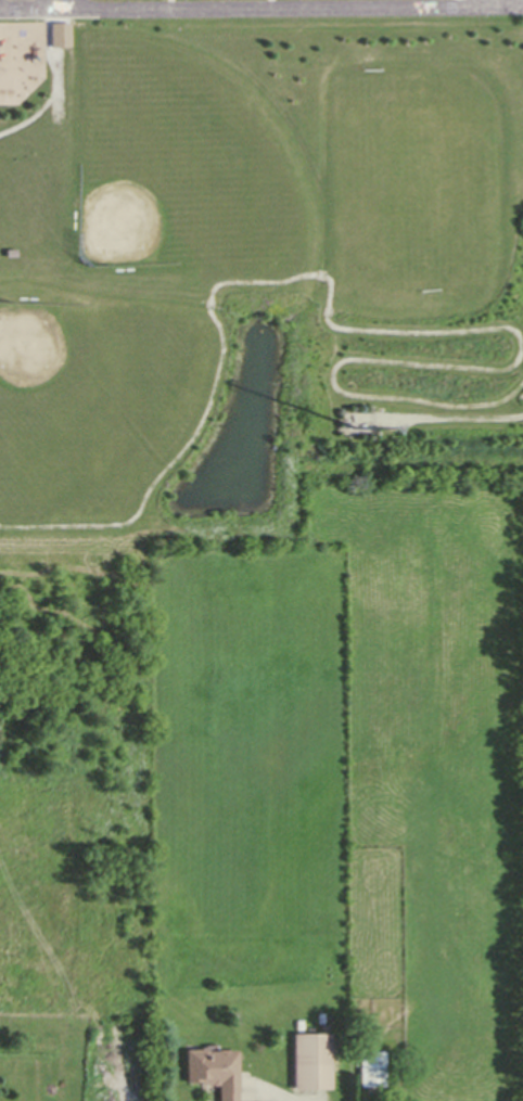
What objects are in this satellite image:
road: (488, 1)
road: (260, 7)
building: (9, 251)
building: (360, 435)
crop: (348, 766)
building: (321, 1016)
building: (296, 1022)
building: (309, 1057)
building: (370, 1067)
building: (212, 1072)

